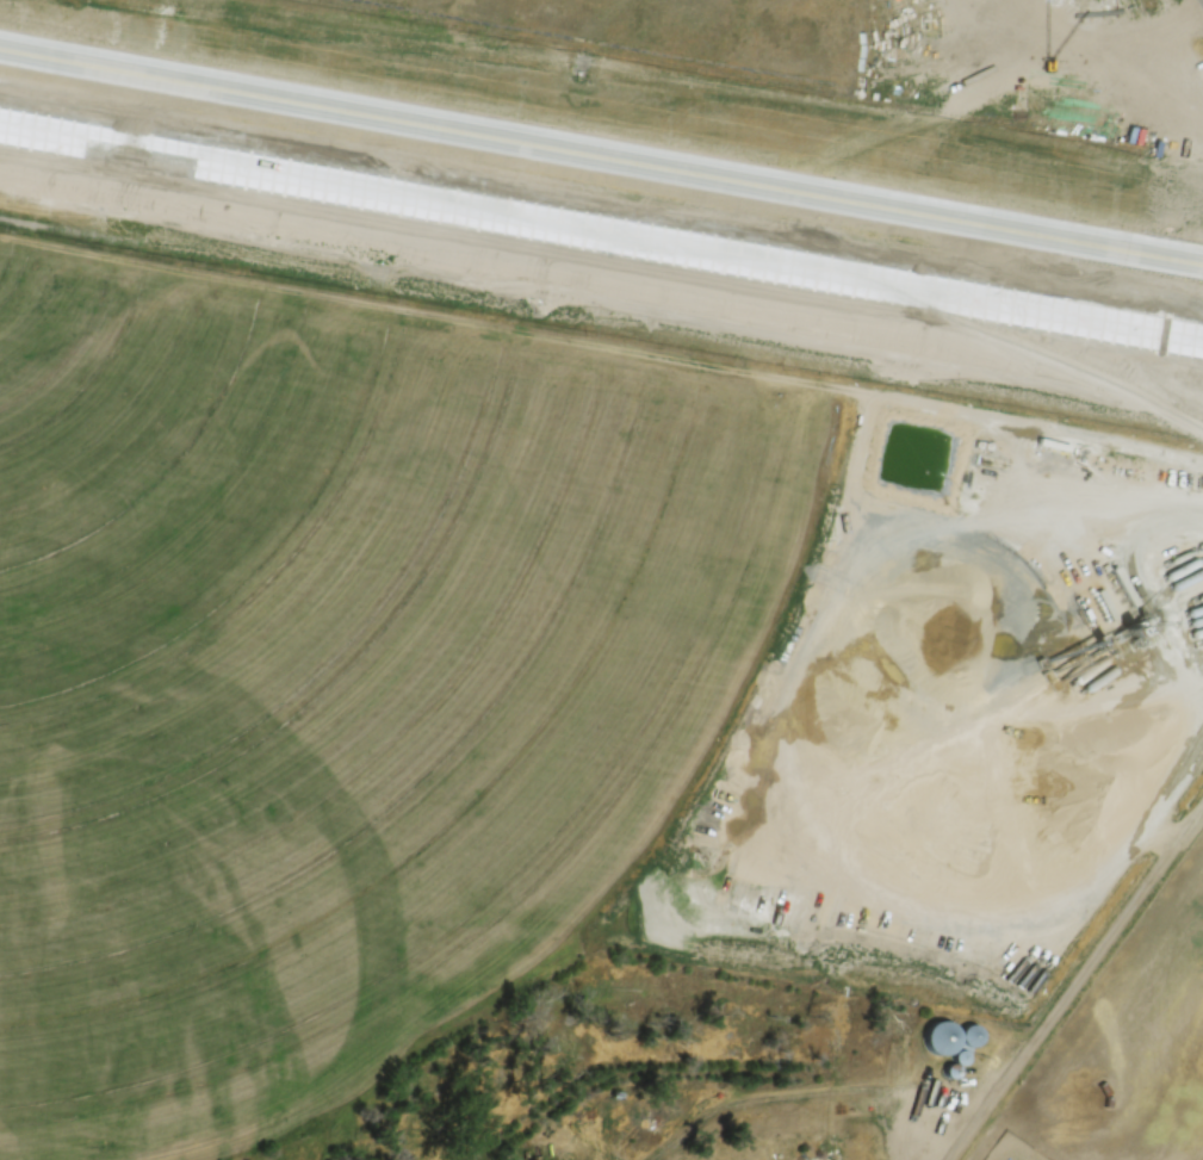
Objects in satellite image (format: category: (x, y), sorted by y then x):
road: (601, 157)
road: (601, 230)
crop: (526, 694)
road: (1079, 986)
crop: (1131, 1049)

